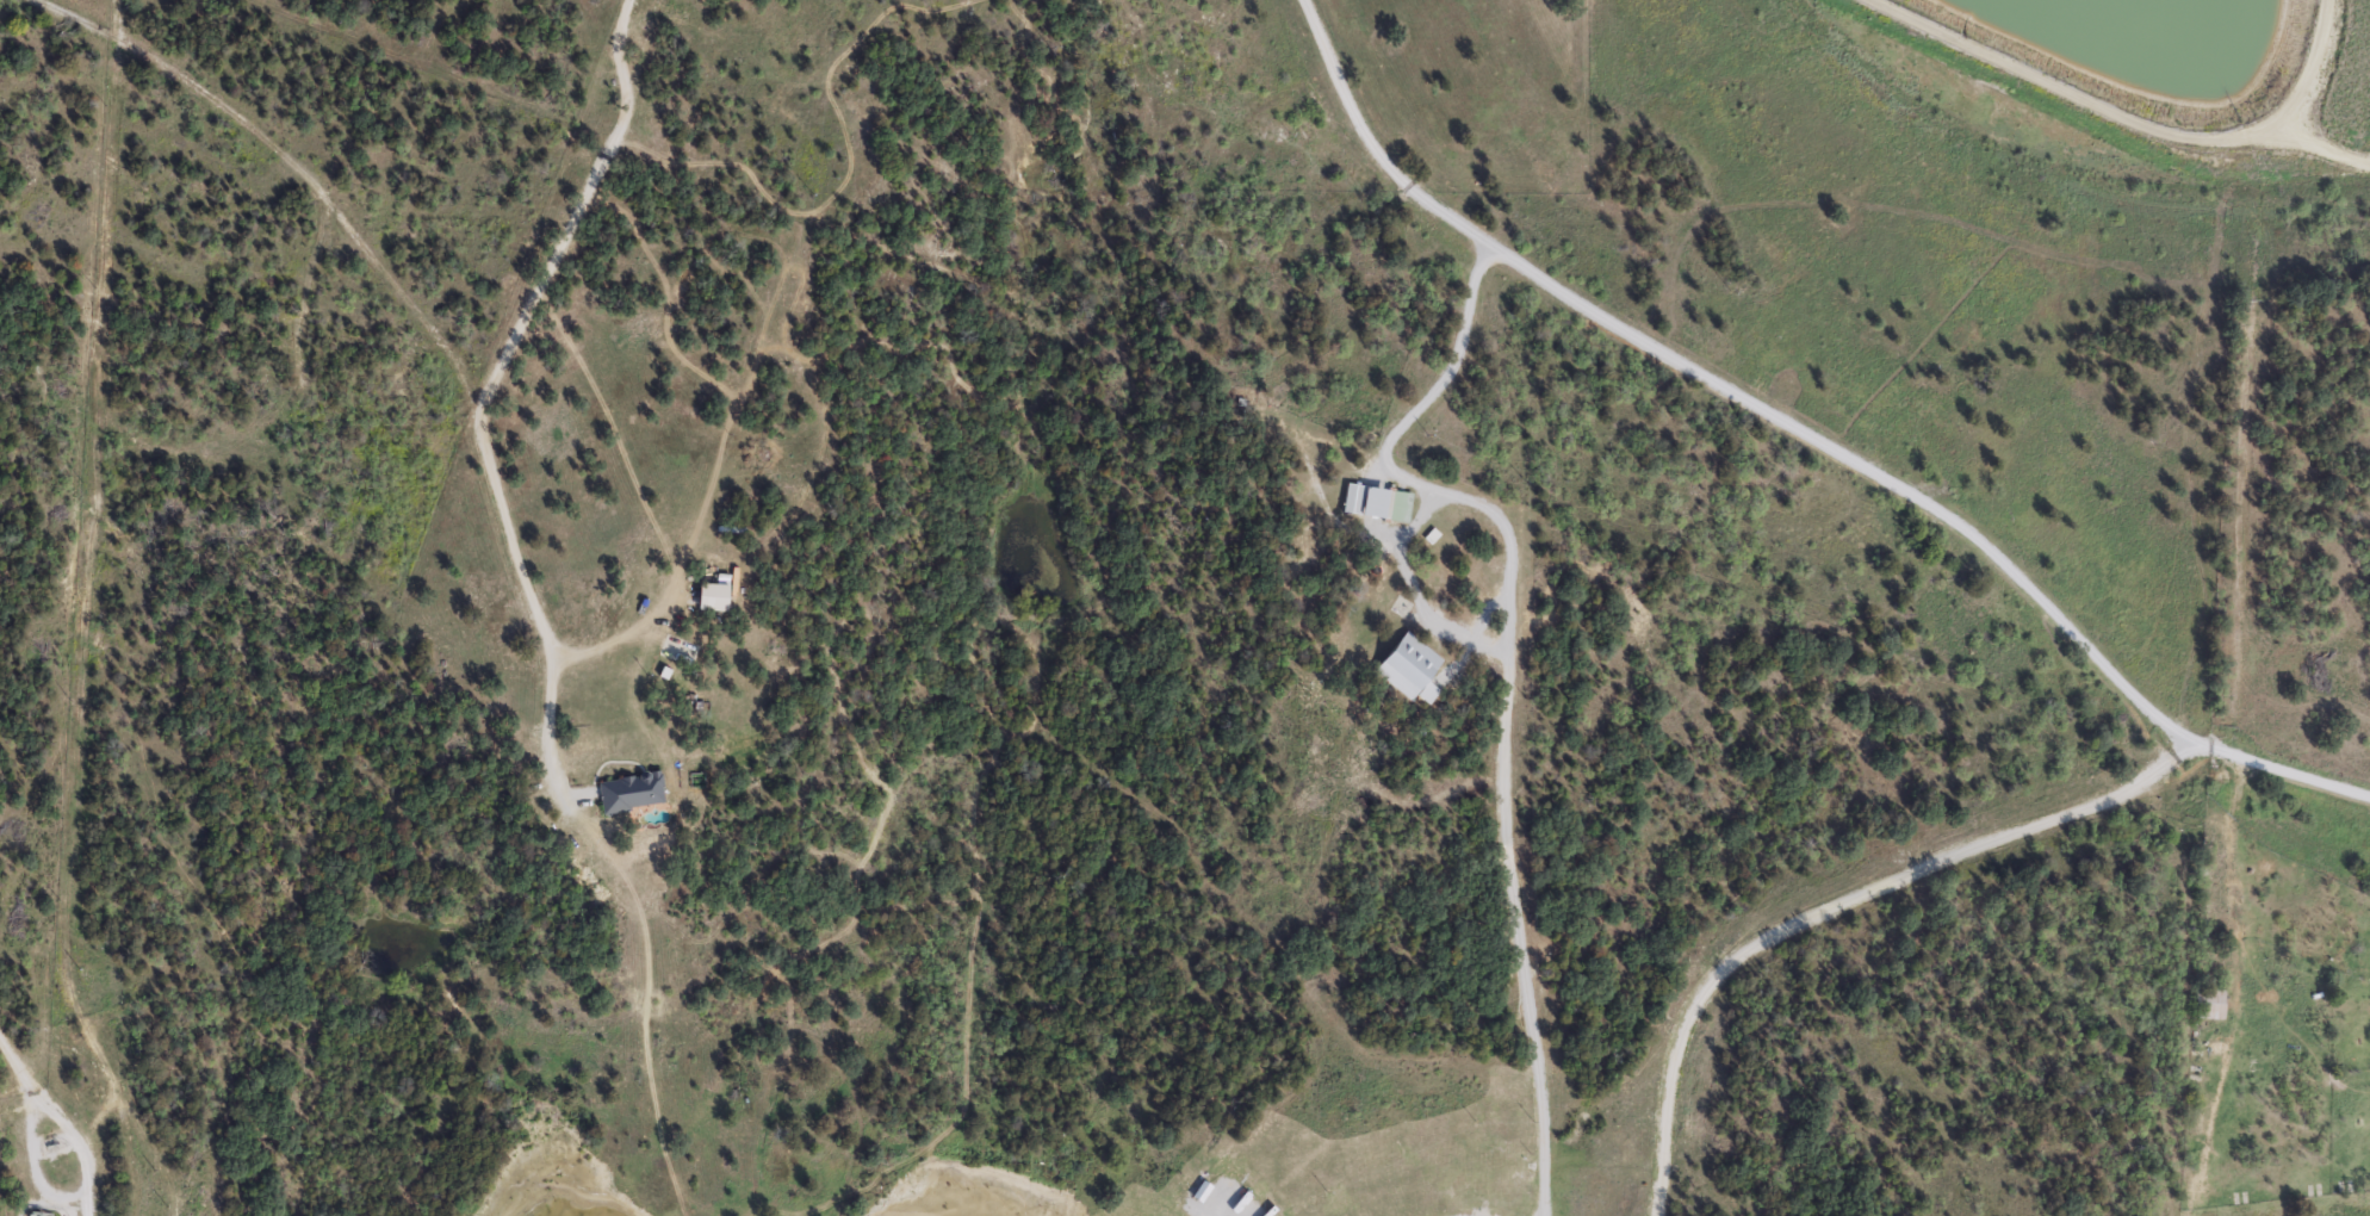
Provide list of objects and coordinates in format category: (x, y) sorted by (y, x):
road: (80, 20)
road: (577, 213)
road: (436, 339)
road: (1804, 433)
road: (1385, 466)
building: (1365, 500)
building: (713, 595)
building: (1408, 666)
road: (984, 770)
building: (631, 790)
road: (1838, 906)
road: (1516, 930)
building: (2209, 1000)
road: (62, 1121)
road: (415, 1211)

